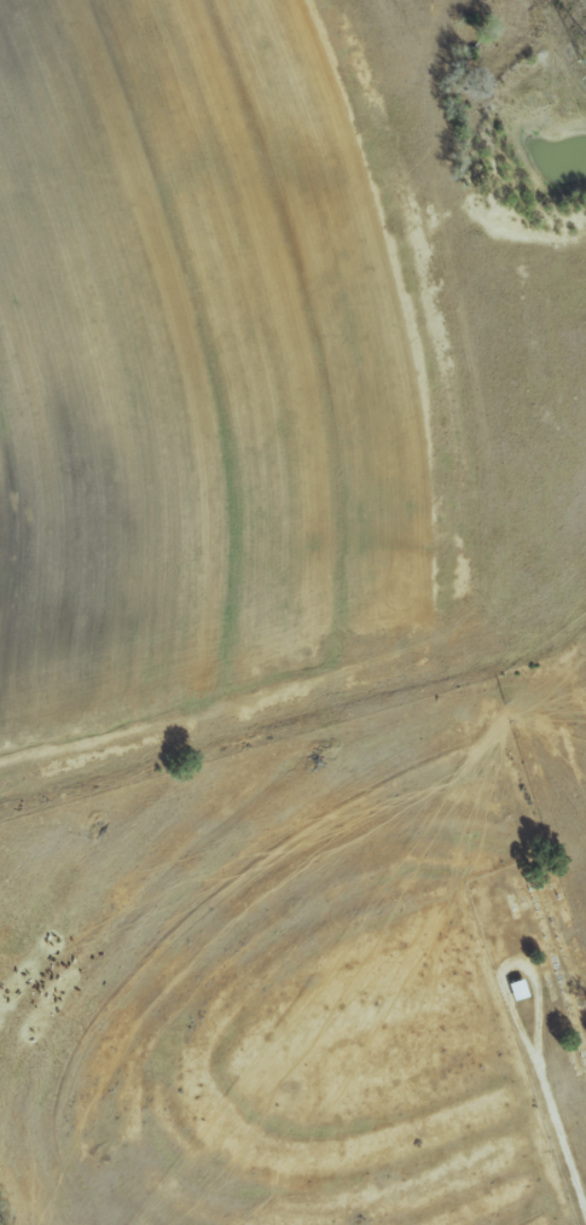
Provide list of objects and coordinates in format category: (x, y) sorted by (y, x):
road: (510, 966)
building: (512, 989)
park: (539, 1004)
road: (561, 1139)

